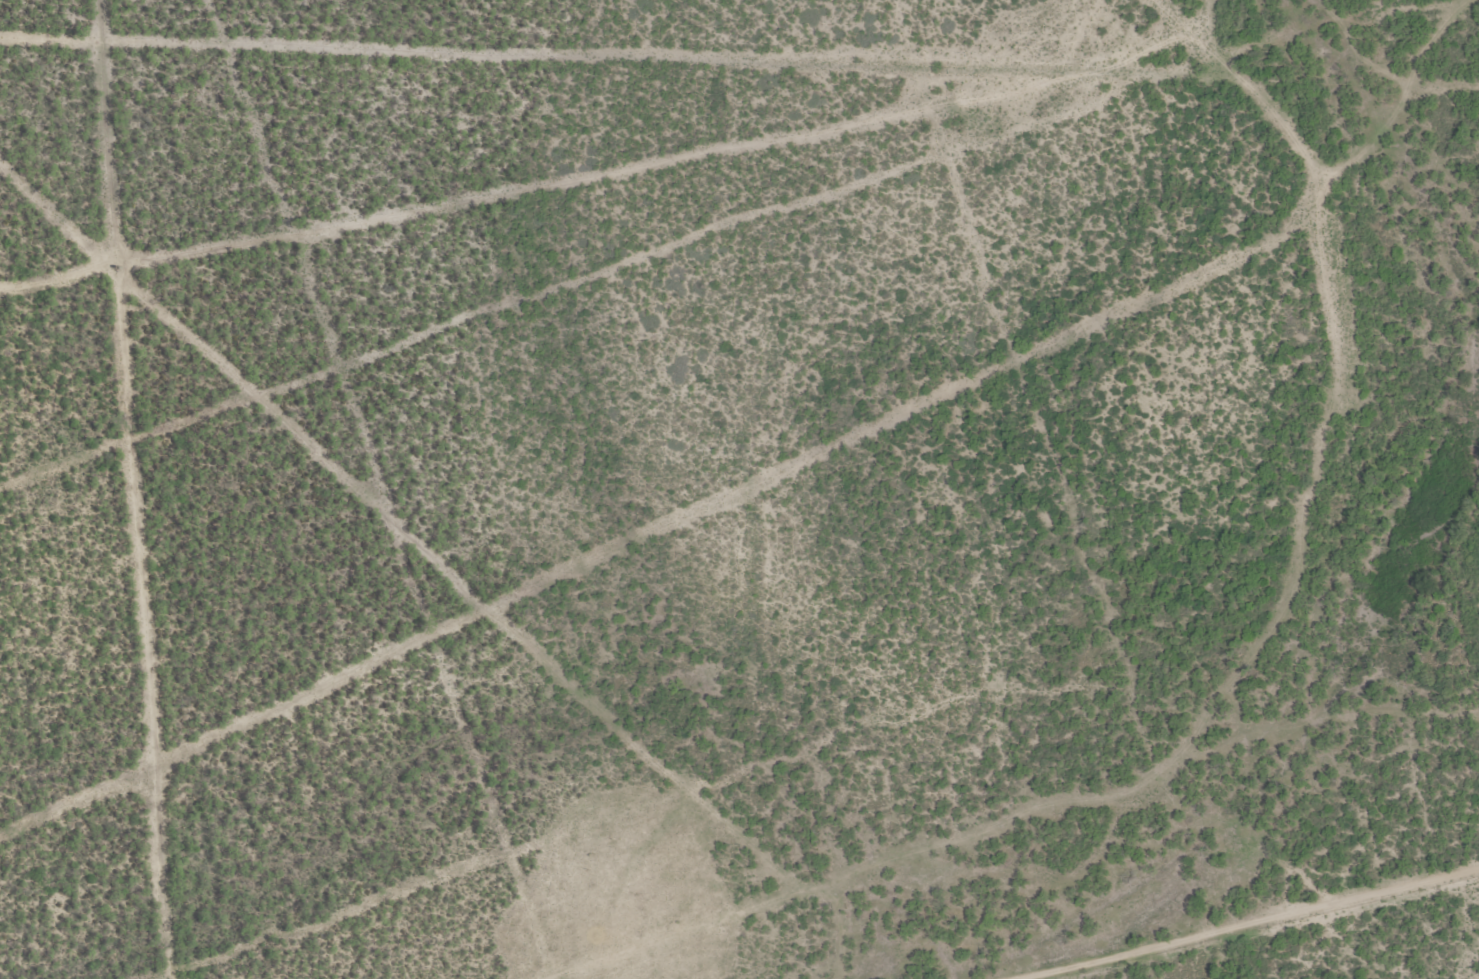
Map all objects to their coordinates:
road: (1244, 924)

